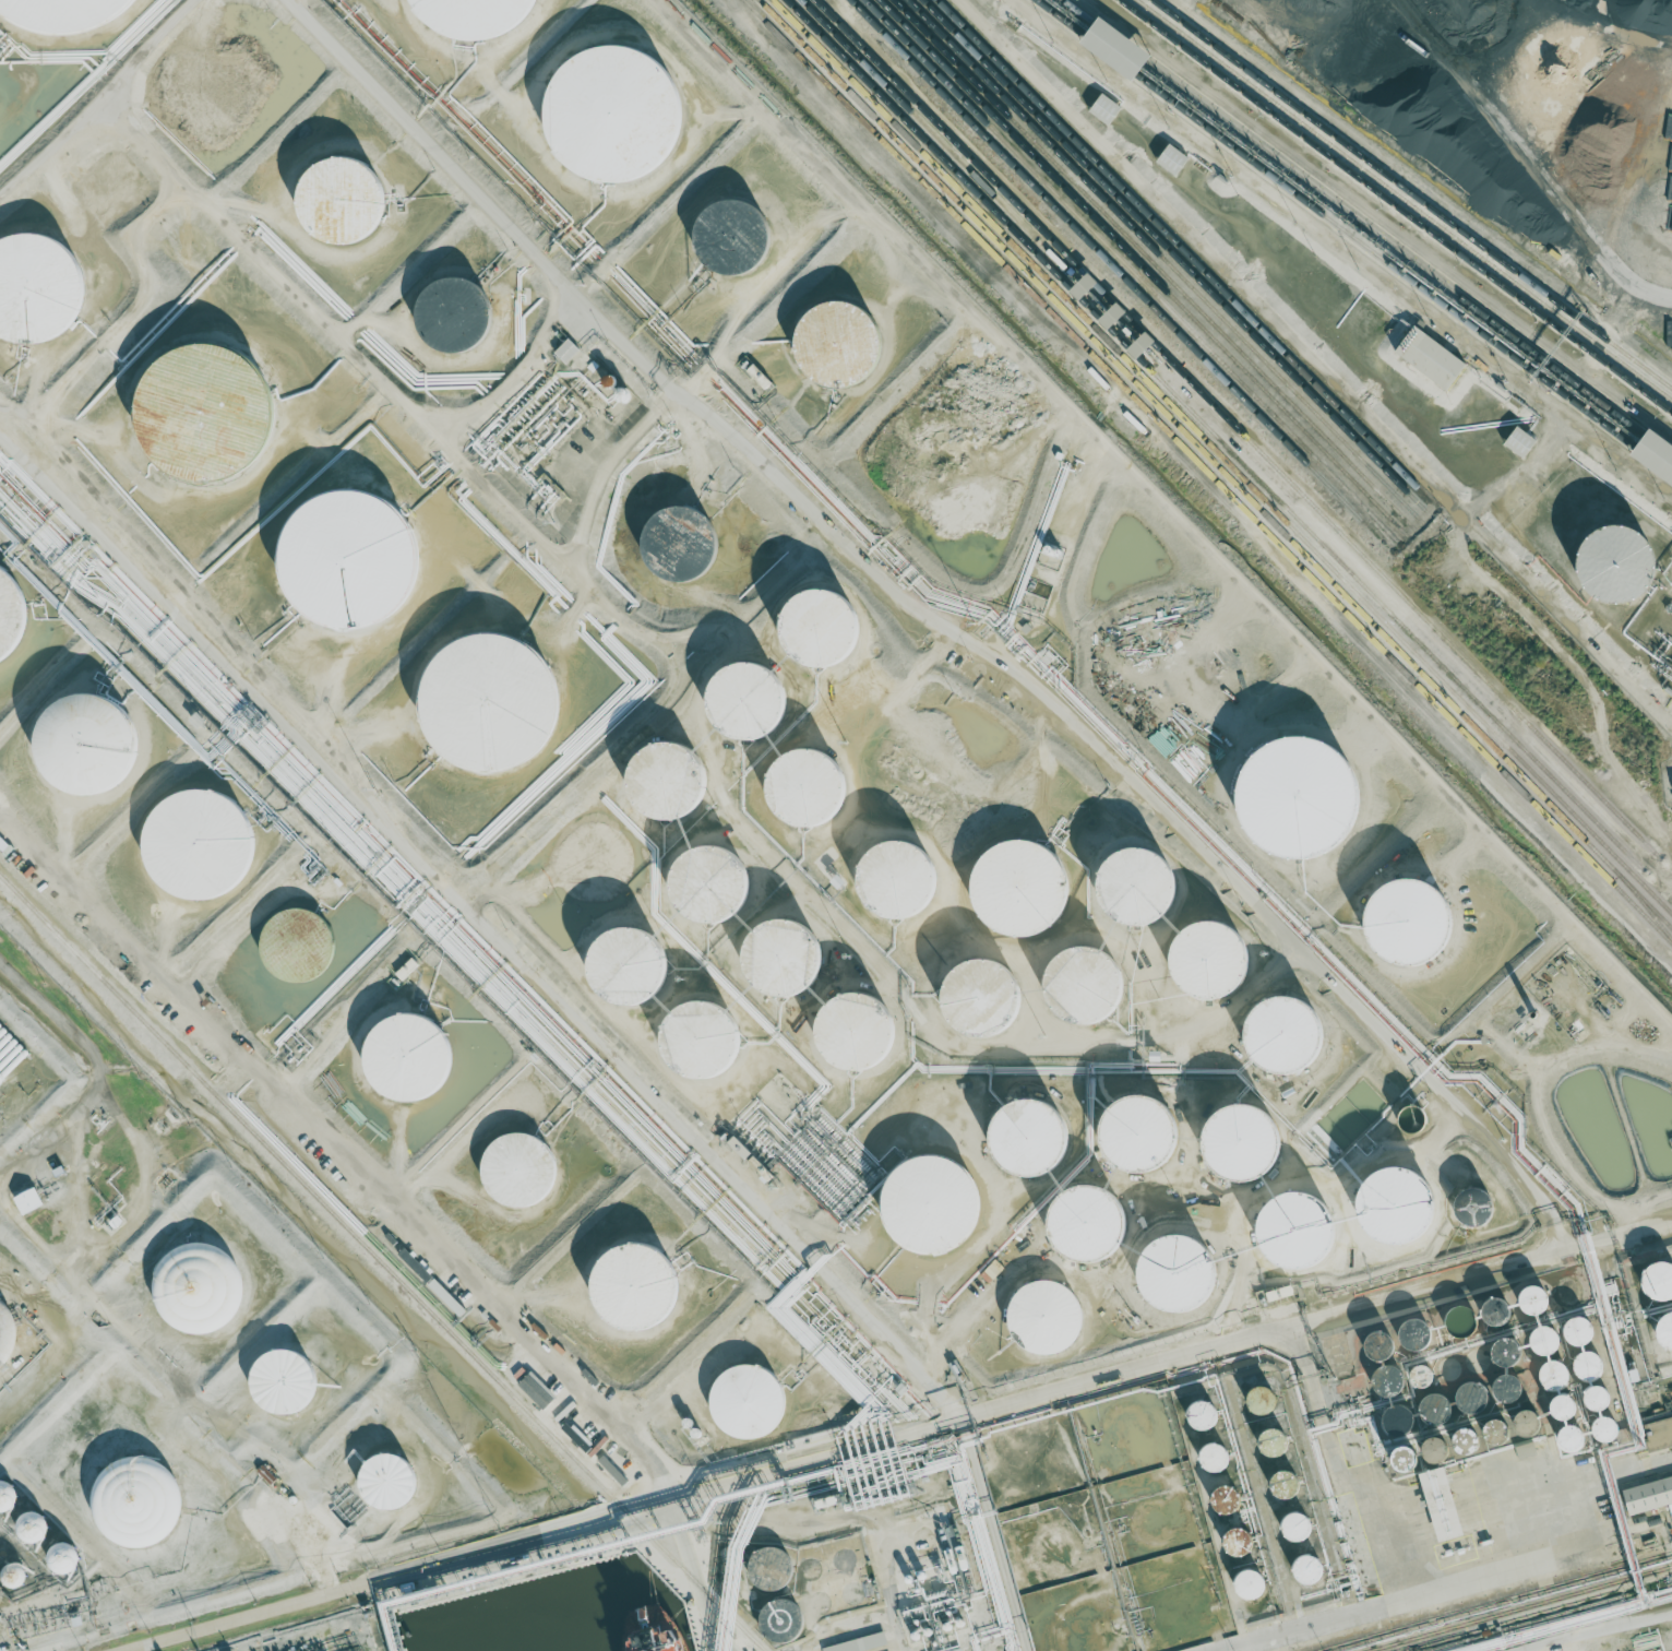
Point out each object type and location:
building: (64, 14)
storage tank: (64, 14)
building: (473, 15)
storage tank: (473, 15)
building: (1119, 48)
road: (101, 98)
building: (1106, 109)
building: (614, 114)
storage tank: (614, 114)
building: (1173, 159)
road: (1527, 159)
railway: (1411, 194)
building: (343, 199)
storage tank: (343, 199)
railway: (1404, 200)
railway: (1395, 206)
road: (1378, 218)
railway: (1368, 228)
building: (733, 236)
storage tank: (733, 236)
railway: (1353, 238)
road: (1337, 248)
railway: (1185, 256)
railway: (1174, 259)
railway: (1163, 262)
railway: (1154, 265)
railway: (1143, 269)
railway: (1132, 272)
railway: (1120, 276)
building: (36, 287)
storage tank: (36, 287)
building: (1085, 287)
building: (454, 314)
storage tank: (454, 314)
building: (838, 343)
storage tank: (838, 343)
building: (568, 352)
building: (1432, 358)
road: (1317, 359)
building: (610, 382)
building: (201, 407)
storage tank: (201, 407)
railway: (1238, 430)
railway: (1227, 432)
railway: (1216, 437)
railway: (1204, 440)
building: (1521, 442)
building: (1657, 455)
railway: (1218, 467)
railway: (1207, 472)
building: (677, 543)
storage tank: (677, 543)
building: (354, 558)
storage tank: (354, 558)
building: (1622, 569)
storage tank: (1622, 569)
road: (894, 586)
building: (7, 616)
storage tank: (7, 616)
building: (822, 630)
storage tank: (822, 630)
building: (492, 702)
storage tank: (492, 702)
building: (749, 704)
storage tank: (749, 704)
building: (93, 744)
storage tank: (93, 744)
building: (669, 781)
storage tank: (669, 781)
building: (805, 789)
storage tank: (805, 789)
building: (1300, 798)
storage tank: (1300, 798)
building: (196, 840)
storage tank: (196, 840)
building: (897, 880)
storage tank: (897, 880)
building: (713, 887)
storage tank: (713, 887)
building: (1019, 889)
storage tank: (1019, 889)
building: (1138, 889)
storage tank: (1138, 889)
railway: (1655, 898)
building: (1409, 922)
storage tank: (1409, 922)
road: (483, 925)
building: (298, 946)
storage tank: (298, 946)
building: (783, 959)
storage tank: (783, 959)
building: (1209, 961)
storage tank: (1209, 961)
building: (626, 966)
storage tank: (626, 966)
building: (406, 970)
building: (1085, 985)
storage tank: (1085, 985)
building: (982, 997)
storage tank: (982, 997)
building: (856, 1032)
storage tank: (856, 1032)
building: (1285, 1035)
storage tank: (1285, 1035)
building: (701, 1040)
storage tank: (701, 1040)
building: (409, 1058)
storage tank: (409, 1058)
building: (1029, 1139)
storage tank: (1029, 1139)
building: (1144, 1139)
storage tank: (1144, 1139)
building: (1242, 1145)
storage tank: (1242, 1145)
building: (514, 1173)
storage tank: (514, 1173)
building: (27, 1200)
building: (1399, 1203)
storage tank: (1399, 1203)
building: (929, 1204)
storage tank: (929, 1204)
road: (1537, 1211)
building: (1088, 1223)
storage tank: (1088, 1223)
building: (1299, 1231)
storage tank: (1299, 1231)
railway: (381, 1263)
building: (1180, 1272)
storage tank: (1180, 1272)
building: (1655, 1274)
road: (1489, 1279)
road: (473, 1285)
building: (198, 1287)
storage tank: (201, 1287)
building: (634, 1288)
storage tank: (634, 1288)
building: (1529, 1293)
road: (73, 1299)
building: (1493, 1305)
building: (1457, 1315)
building: (1049, 1317)
storage tank: (1049, 1317)
building: (0, 1319)
building: (1574, 1323)
building: (1663, 1325)
building: (1409, 1327)
storage tank: (4, 1332)
building: (1539, 1333)
building: (1373, 1338)
building: (1502, 1345)
building: (1383, 1346)
building: (1583, 1356)
building: (1548, 1365)
building: (1590, 1365)
building: (1416, 1371)
building: (1382, 1374)
building: (1557, 1375)
building: (285, 1380)
storage tank: (287, 1382)
building: (1501, 1382)
road: (53, 1386)
building: (1589, 1389)
building: (1467, 1391)
building: (1256, 1392)
building: (1601, 1395)
building: (1556, 1398)
building: (1430, 1399)
storage tank: (745, 1402)
building: (1569, 1405)
building: (1196, 1409)
building: (1389, 1414)
building: (1518, 1415)
building: (1120, 1417)
building: (1671, 1417)
building: (1599, 1420)
building: (1488, 1422)
building: (1562, 1428)
building: (1608, 1428)
building: (1459, 1433)
building: (1267, 1436)
building: (1574, 1438)
building: (1425, 1440)
building: (1394, 1450)
building: (1525, 1450)
building: (1209, 1451)
building: (1409, 1458)
building: (1278, 1478)
building: (390, 1481)
building: (1289, 1483)
road: (715, 1484)
building: (1221, 1493)
building: (1649, 1495)
building: (8, 1496)
building: (136, 1501)
storage tank: (138, 1505)
building: (1671, 1509)
building: (1146, 1513)
building: (1290, 1521)
building: (33, 1527)
road: (1417, 1535)
building: (1232, 1536)
building: (1048, 1542)
building: (64, 1557)
building: (1304, 1565)
building: (769, 1569)
storage tank: (769, 1570)
building: (1243, 1580)
railway: (1496, 1602)
building: (1171, 1608)
railway: (1521, 1608)
storage tank: (781, 1622)
building: (1076, 1632)
building: (859, 1643)

